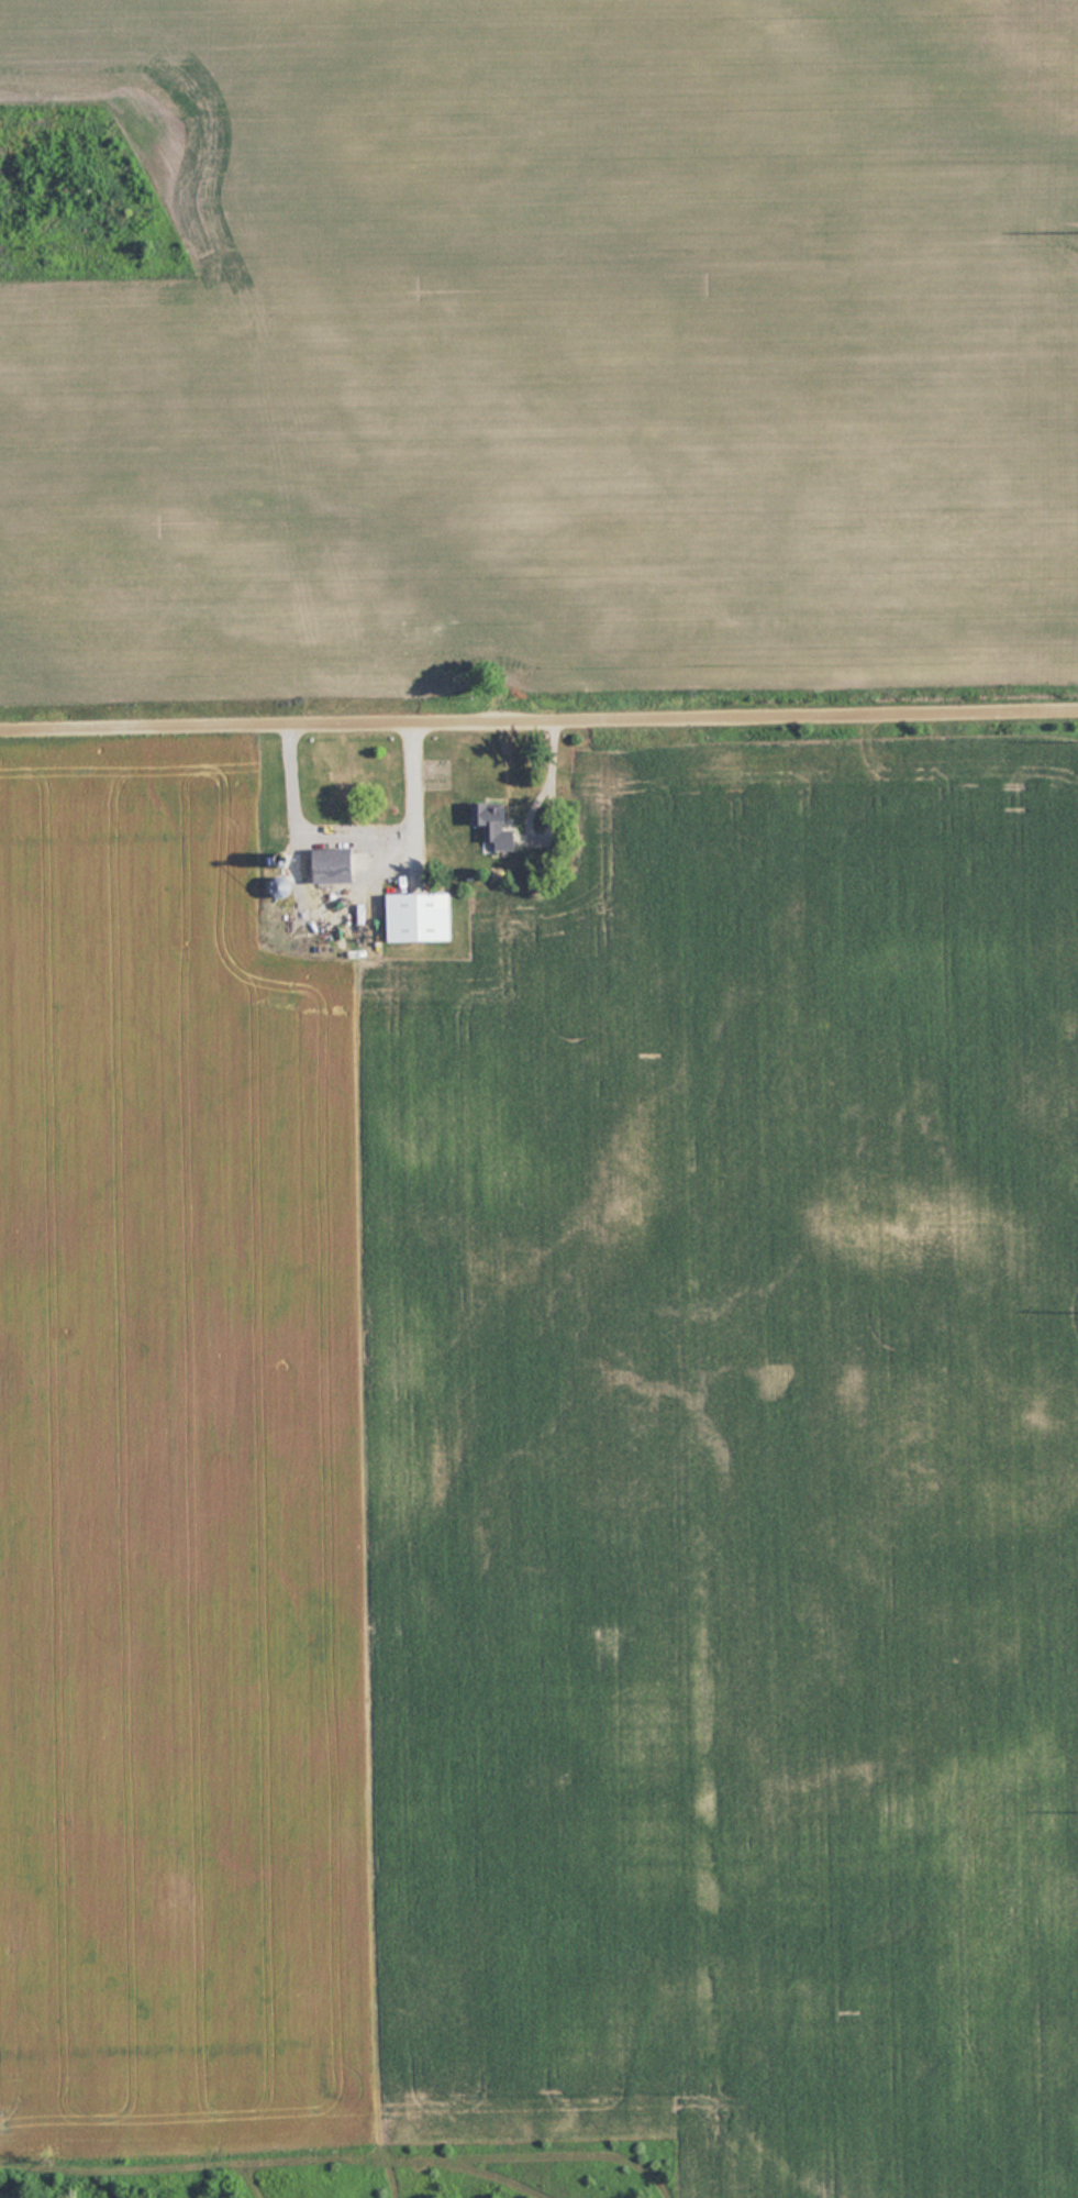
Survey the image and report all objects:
road: (538, 725)
building: (297, 755)
road: (336, 782)
building: (497, 827)
road: (352, 835)
building: (335, 865)
building: (285, 887)
building: (421, 917)

